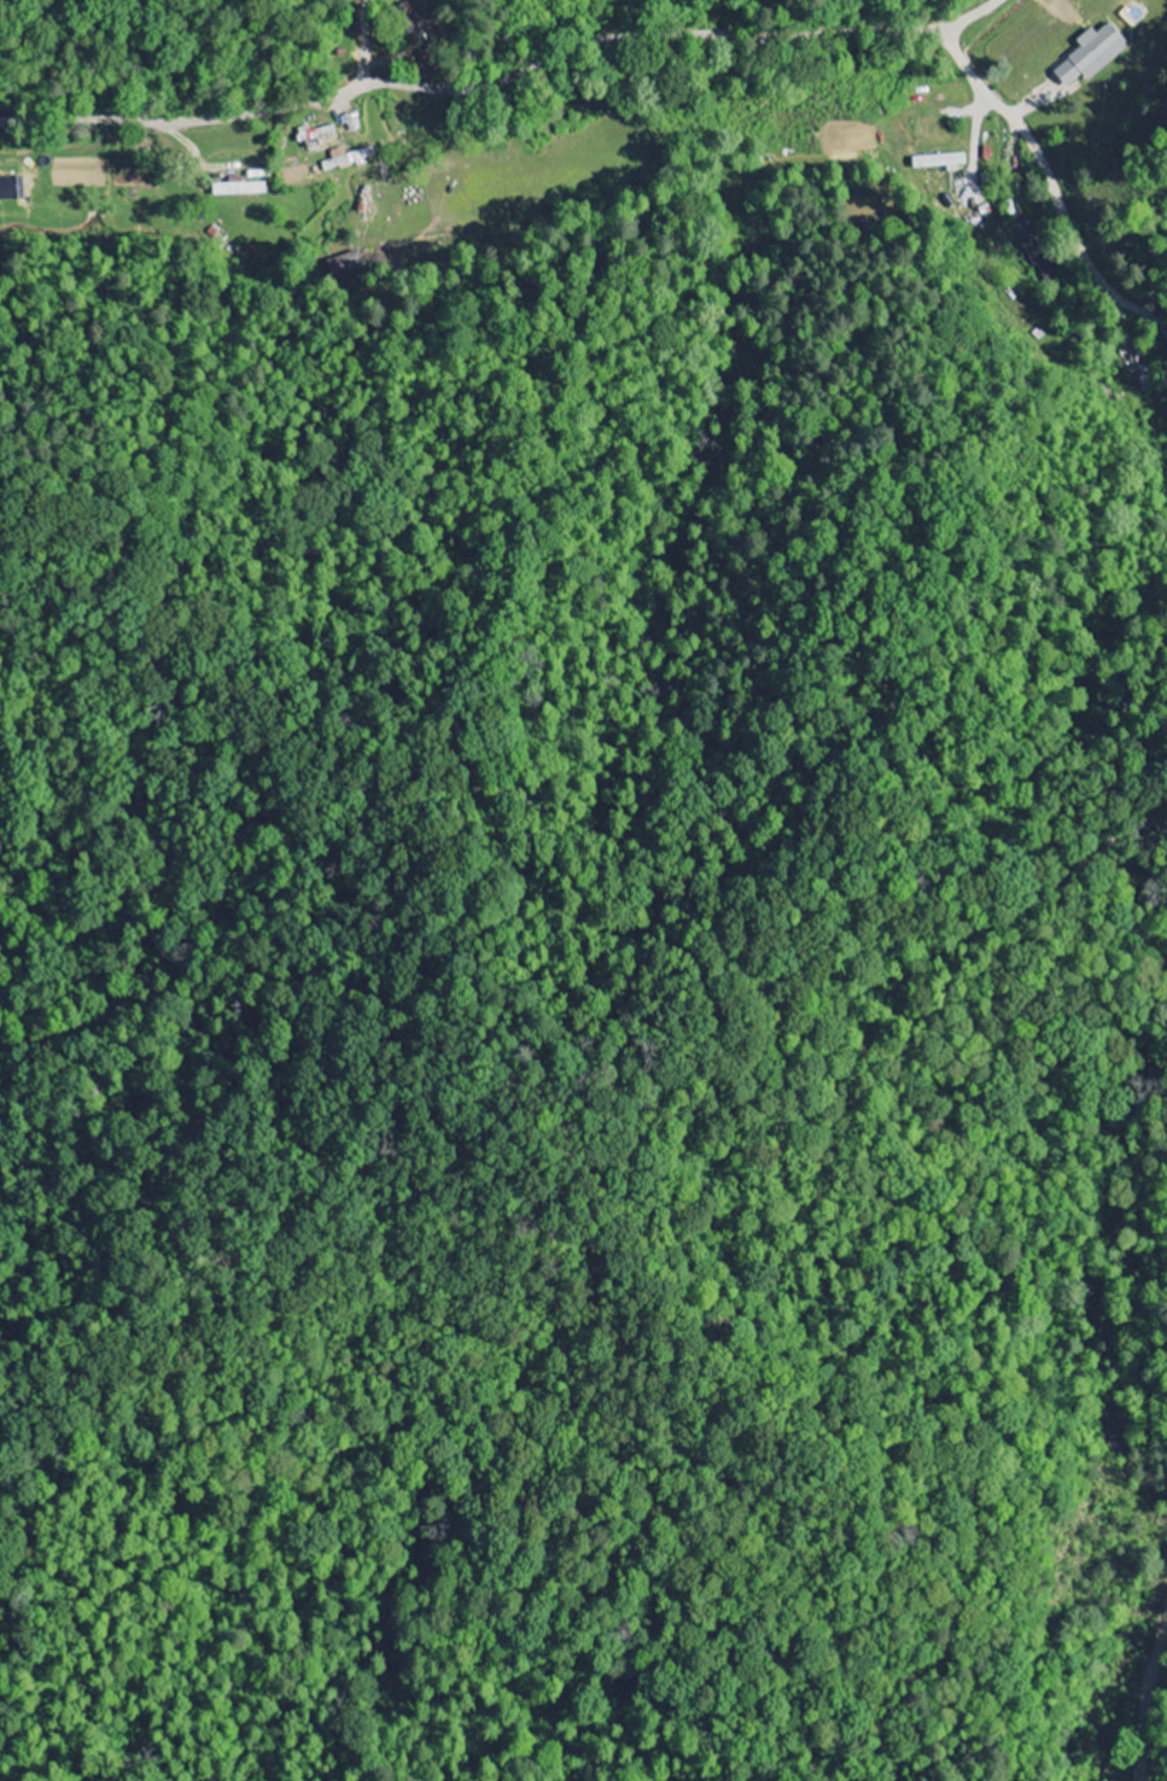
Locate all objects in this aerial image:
building: (1091, 54)
road: (82, 59)
road: (502, 80)
building: (319, 136)
building: (345, 158)
building: (939, 162)
road: (1052, 180)
building: (238, 187)
building: (5, 189)
building: (344, 264)
road: (1148, 1705)

